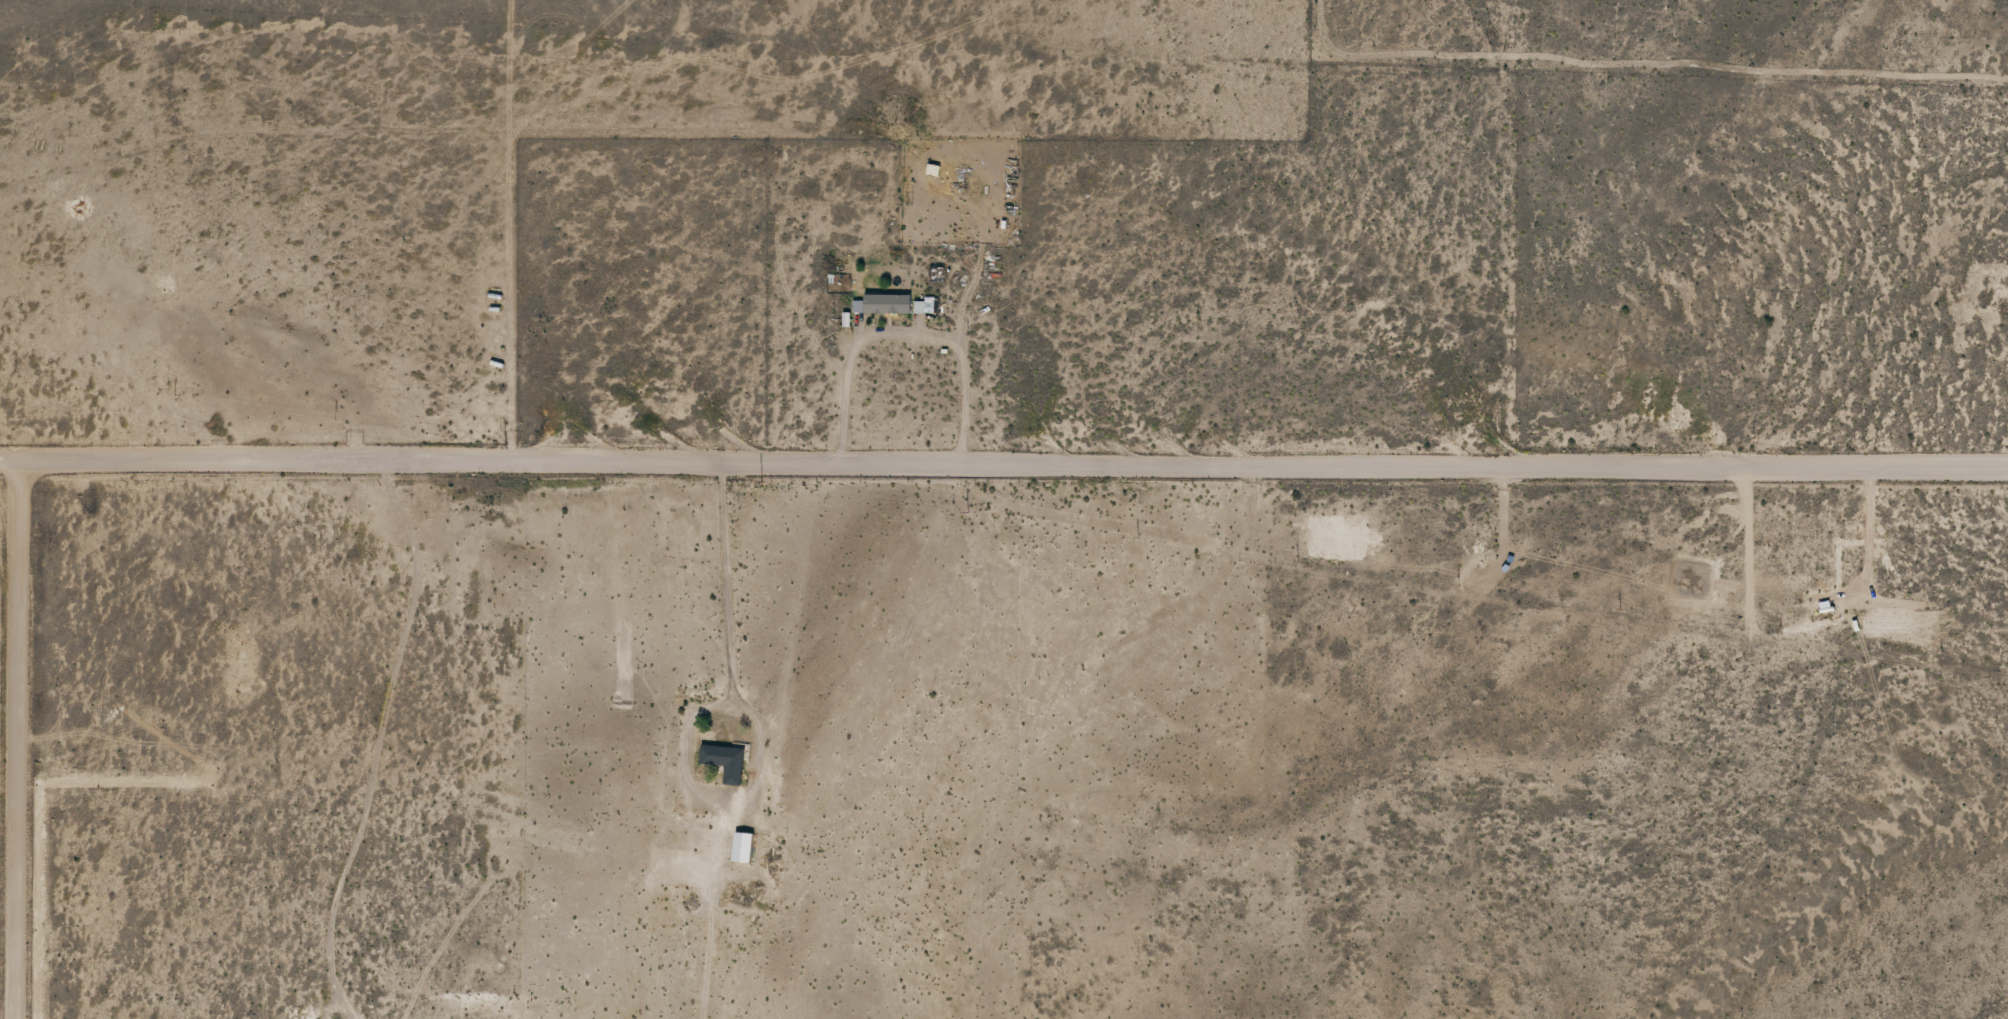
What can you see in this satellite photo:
building: (933, 172)
building: (887, 305)
road: (903, 338)
road: (1003, 465)
road: (755, 722)
road: (1688, 742)
building: (727, 763)
building: (744, 849)

